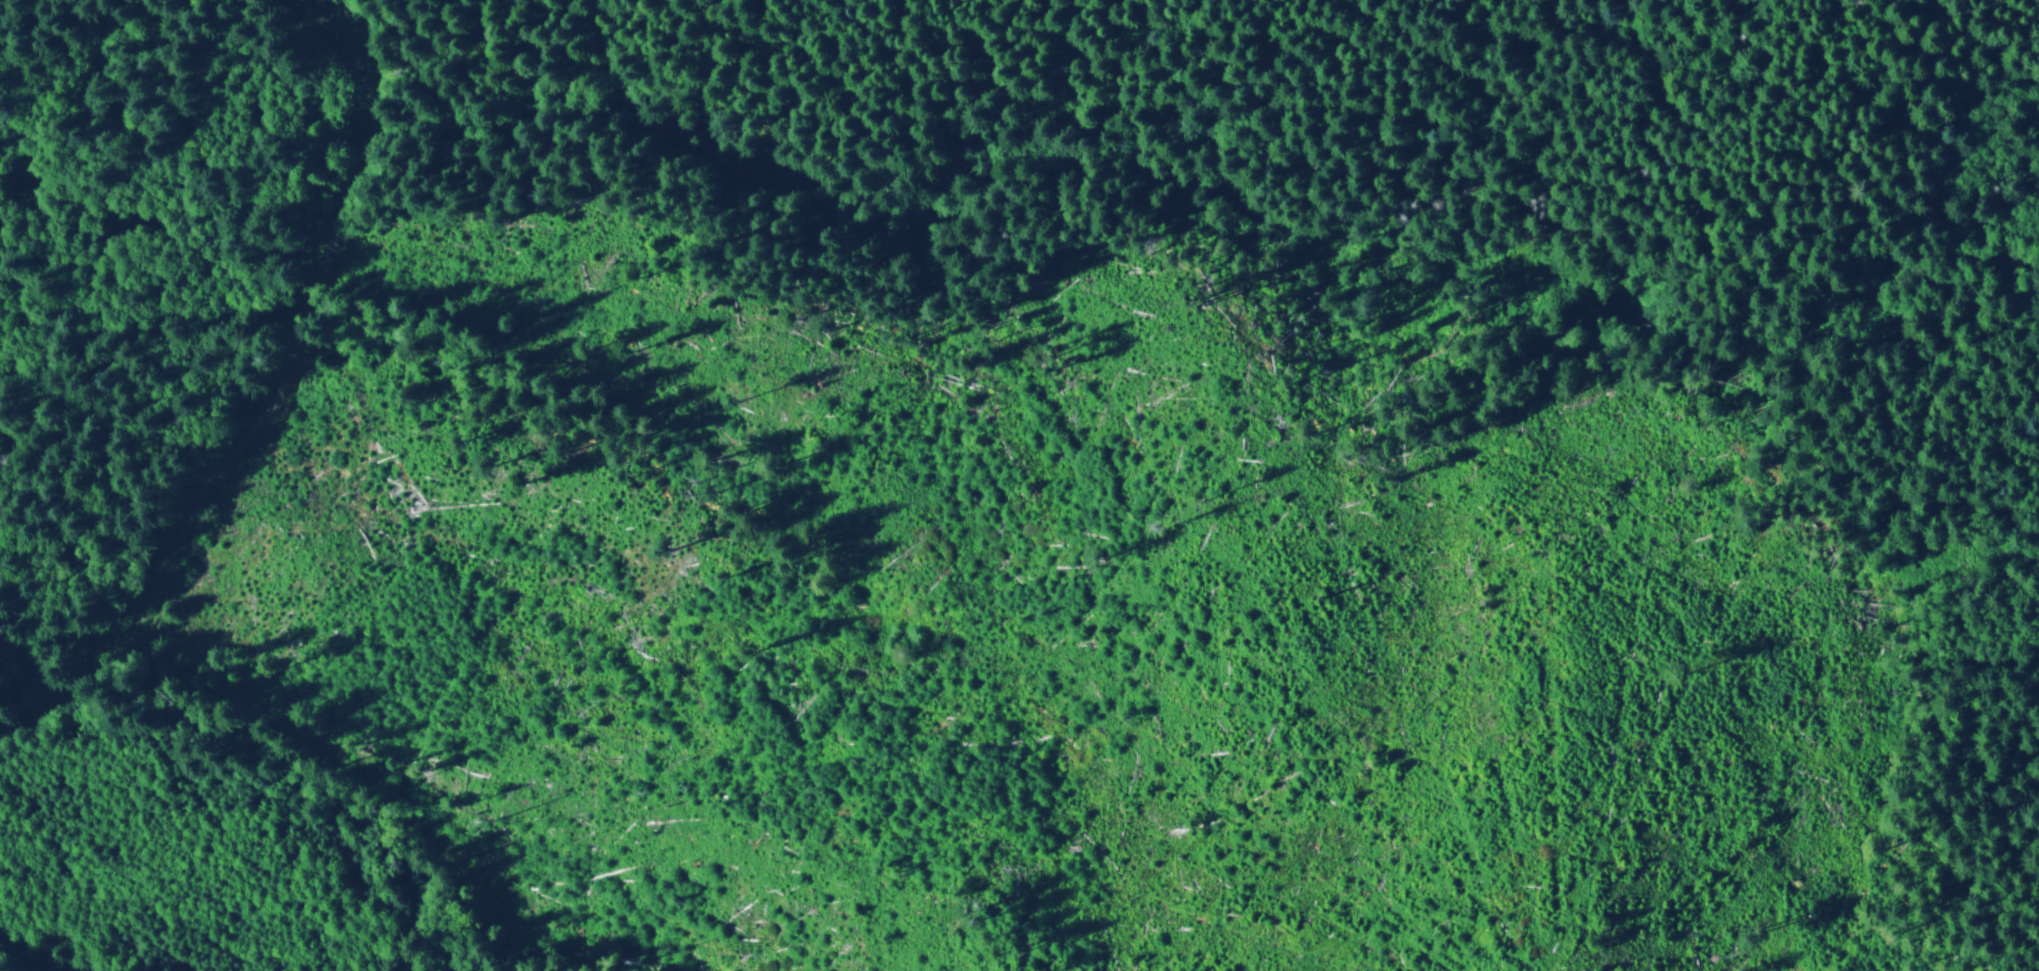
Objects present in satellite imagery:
road: (318, 281)
road: (39, 692)
road: (13, 963)

